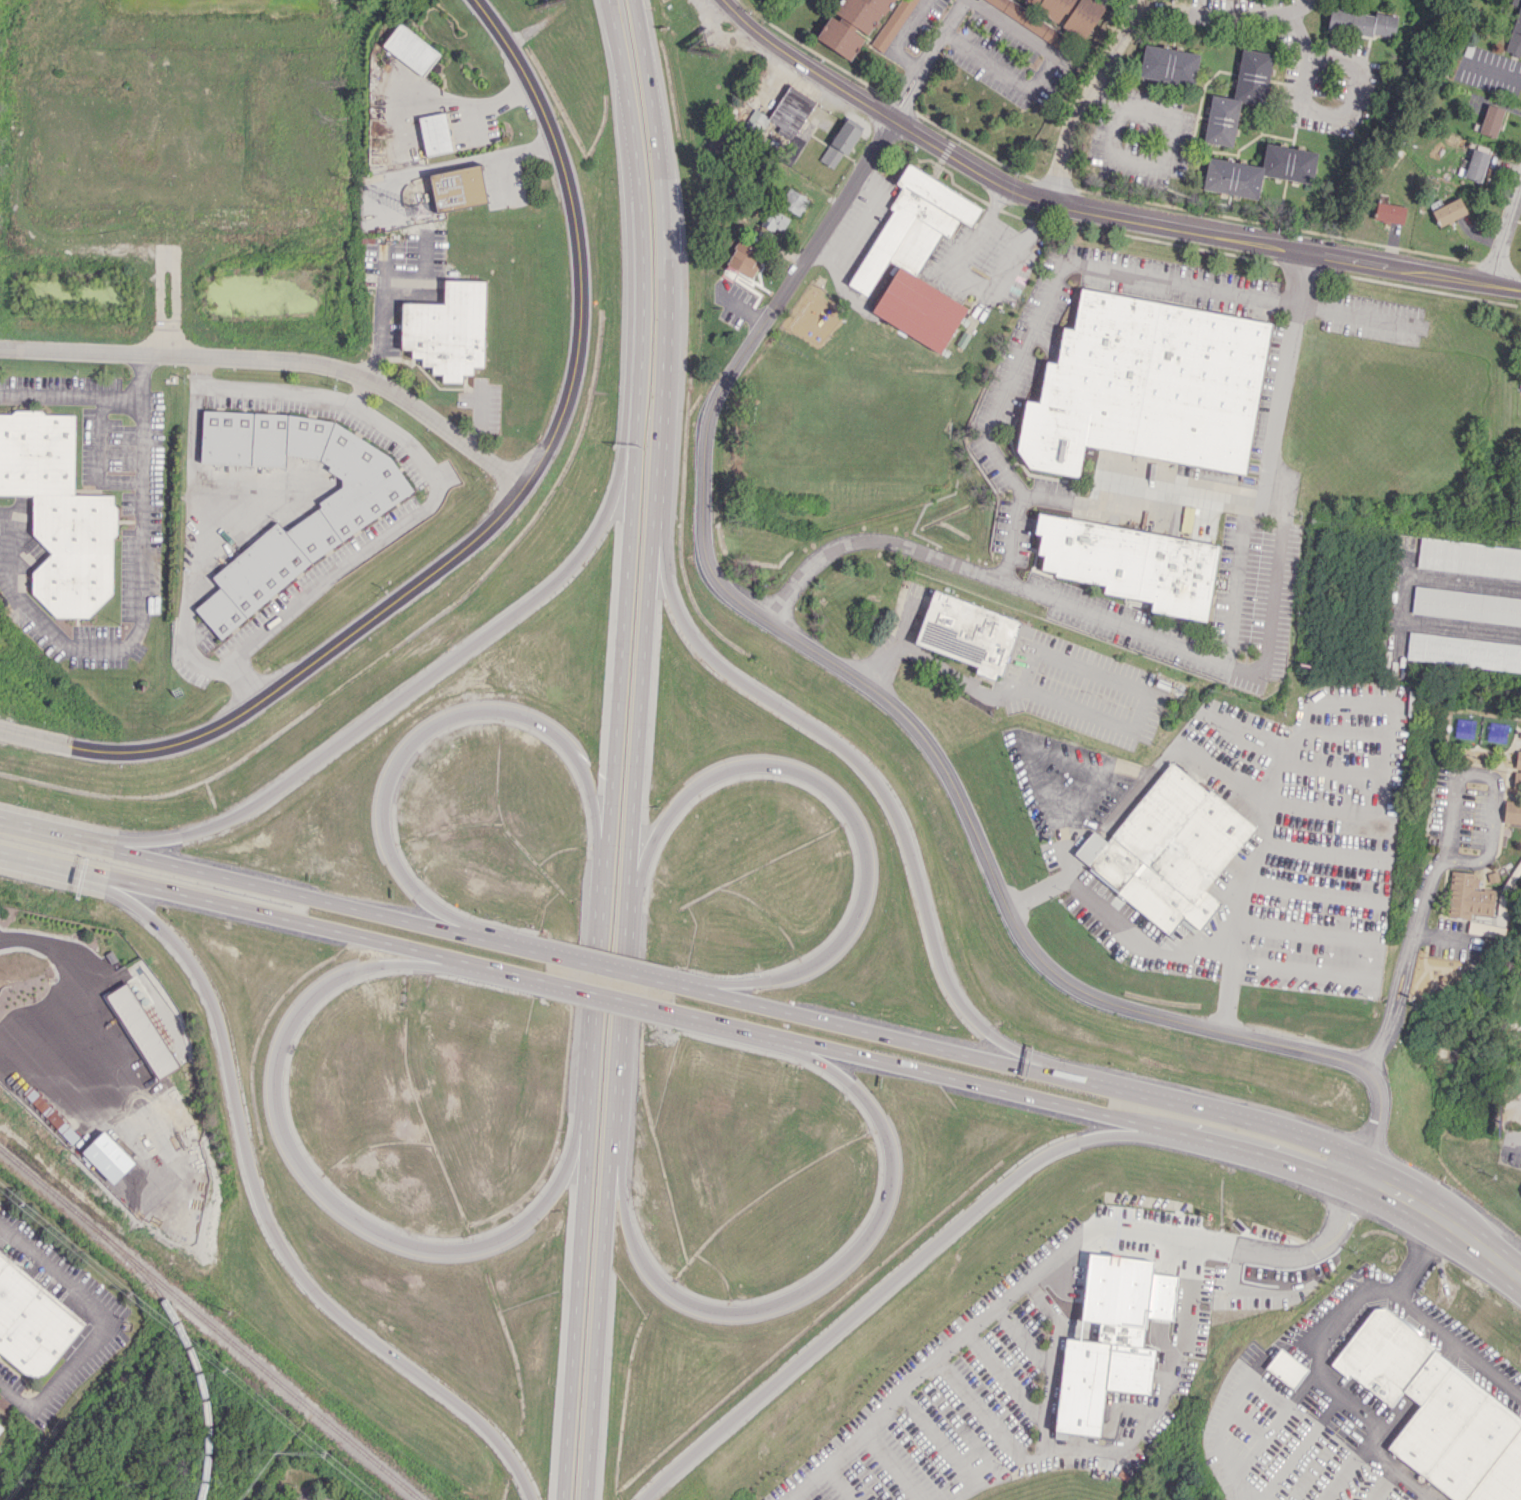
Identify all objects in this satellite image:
road: (1140, 4)
building: (1072, 13)
building: (1030, 21)
building: (1361, 22)
building: (892, 24)
building: (851, 25)
road: (1130, 27)
road: (1014, 29)
building: (1515, 31)
road: (942, 33)
road: (900, 37)
building: (410, 49)
building: (1168, 65)
road: (801, 66)
road: (1002, 70)
road: (1495, 73)
building: (1252, 76)
road: (899, 87)
road: (910, 94)
road: (451, 98)
building: (1027, 98)
road: (1321, 109)
building: (783, 114)
building: (1221, 120)
building: (1490, 121)
building: (435, 133)
road: (1168, 144)
building: (839, 145)
road: (453, 162)
building: (1474, 165)
building: (1259, 171)
building: (458, 188)
building: (794, 201)
building: (1449, 211)
building: (1389, 212)
building: (775, 221)
road: (1196, 228)
road: (1505, 232)
road: (577, 236)
building: (915, 257)
building: (743, 260)
road: (663, 261)
road: (394, 327)
building: (447, 329)
road: (279, 360)
road: (195, 371)
building: (1147, 386)
road: (71, 393)
road: (995, 417)
road: (637, 423)
road: (433, 486)
road: (1188, 489)
building: (59, 512)
building: (343, 515)
building: (1469, 558)
road: (186, 562)
building: (1131, 563)
road: (142, 601)
building: (1466, 606)
road: (511, 615)
road: (1268, 619)
road: (903, 623)
building: (968, 633)
building: (1464, 651)
road: (1058, 662)
road: (286, 679)
road: (900, 711)
road: (425, 727)
building: (1462, 727)
building: (1495, 732)
road: (1387, 763)
building: (1517, 767)
road: (1492, 781)
road: (1075, 785)
road: (880, 788)
building: (1512, 812)
road: (851, 814)
road: (1062, 843)
building: (1169, 850)
road: (240, 880)
road: (1039, 891)
road: (1314, 893)
building: (1467, 896)
road: (238, 907)
building: (1484, 929)
road: (1450, 938)
road: (513, 945)
road: (1362, 959)
road: (1404, 963)
road: (610, 968)
road: (510, 971)
road: (597, 973)
road: (682, 986)
road: (608, 994)
road: (84, 999)
road: (619, 1011)
road: (732, 1024)
building: (140, 1031)
road: (878, 1033)
road: (985, 1085)
road: (1215, 1113)
building: (53, 1119)
road: (1515, 1141)
road: (1266, 1154)
road: (249, 1170)
road: (311, 1182)
road: (1422, 1207)
road: (1260, 1245)
road: (1504, 1265)
road: (894, 1280)
road: (810, 1287)
road: (575, 1299)
road: (1425, 1315)
road: (1338, 1316)
building: (32, 1322)
road: (103, 1323)
railway: (209, 1324)
building: (1022, 1327)
road: (945, 1350)
railway: (196, 1364)
building: (1285, 1368)
building: (1097, 1380)
road: (1167, 1380)
road: (1237, 1402)
building: (1438, 1413)
building: (1, 1428)
road: (1371, 1430)
road: (1264, 1435)
road: (1041, 1436)
road: (1399, 1471)

